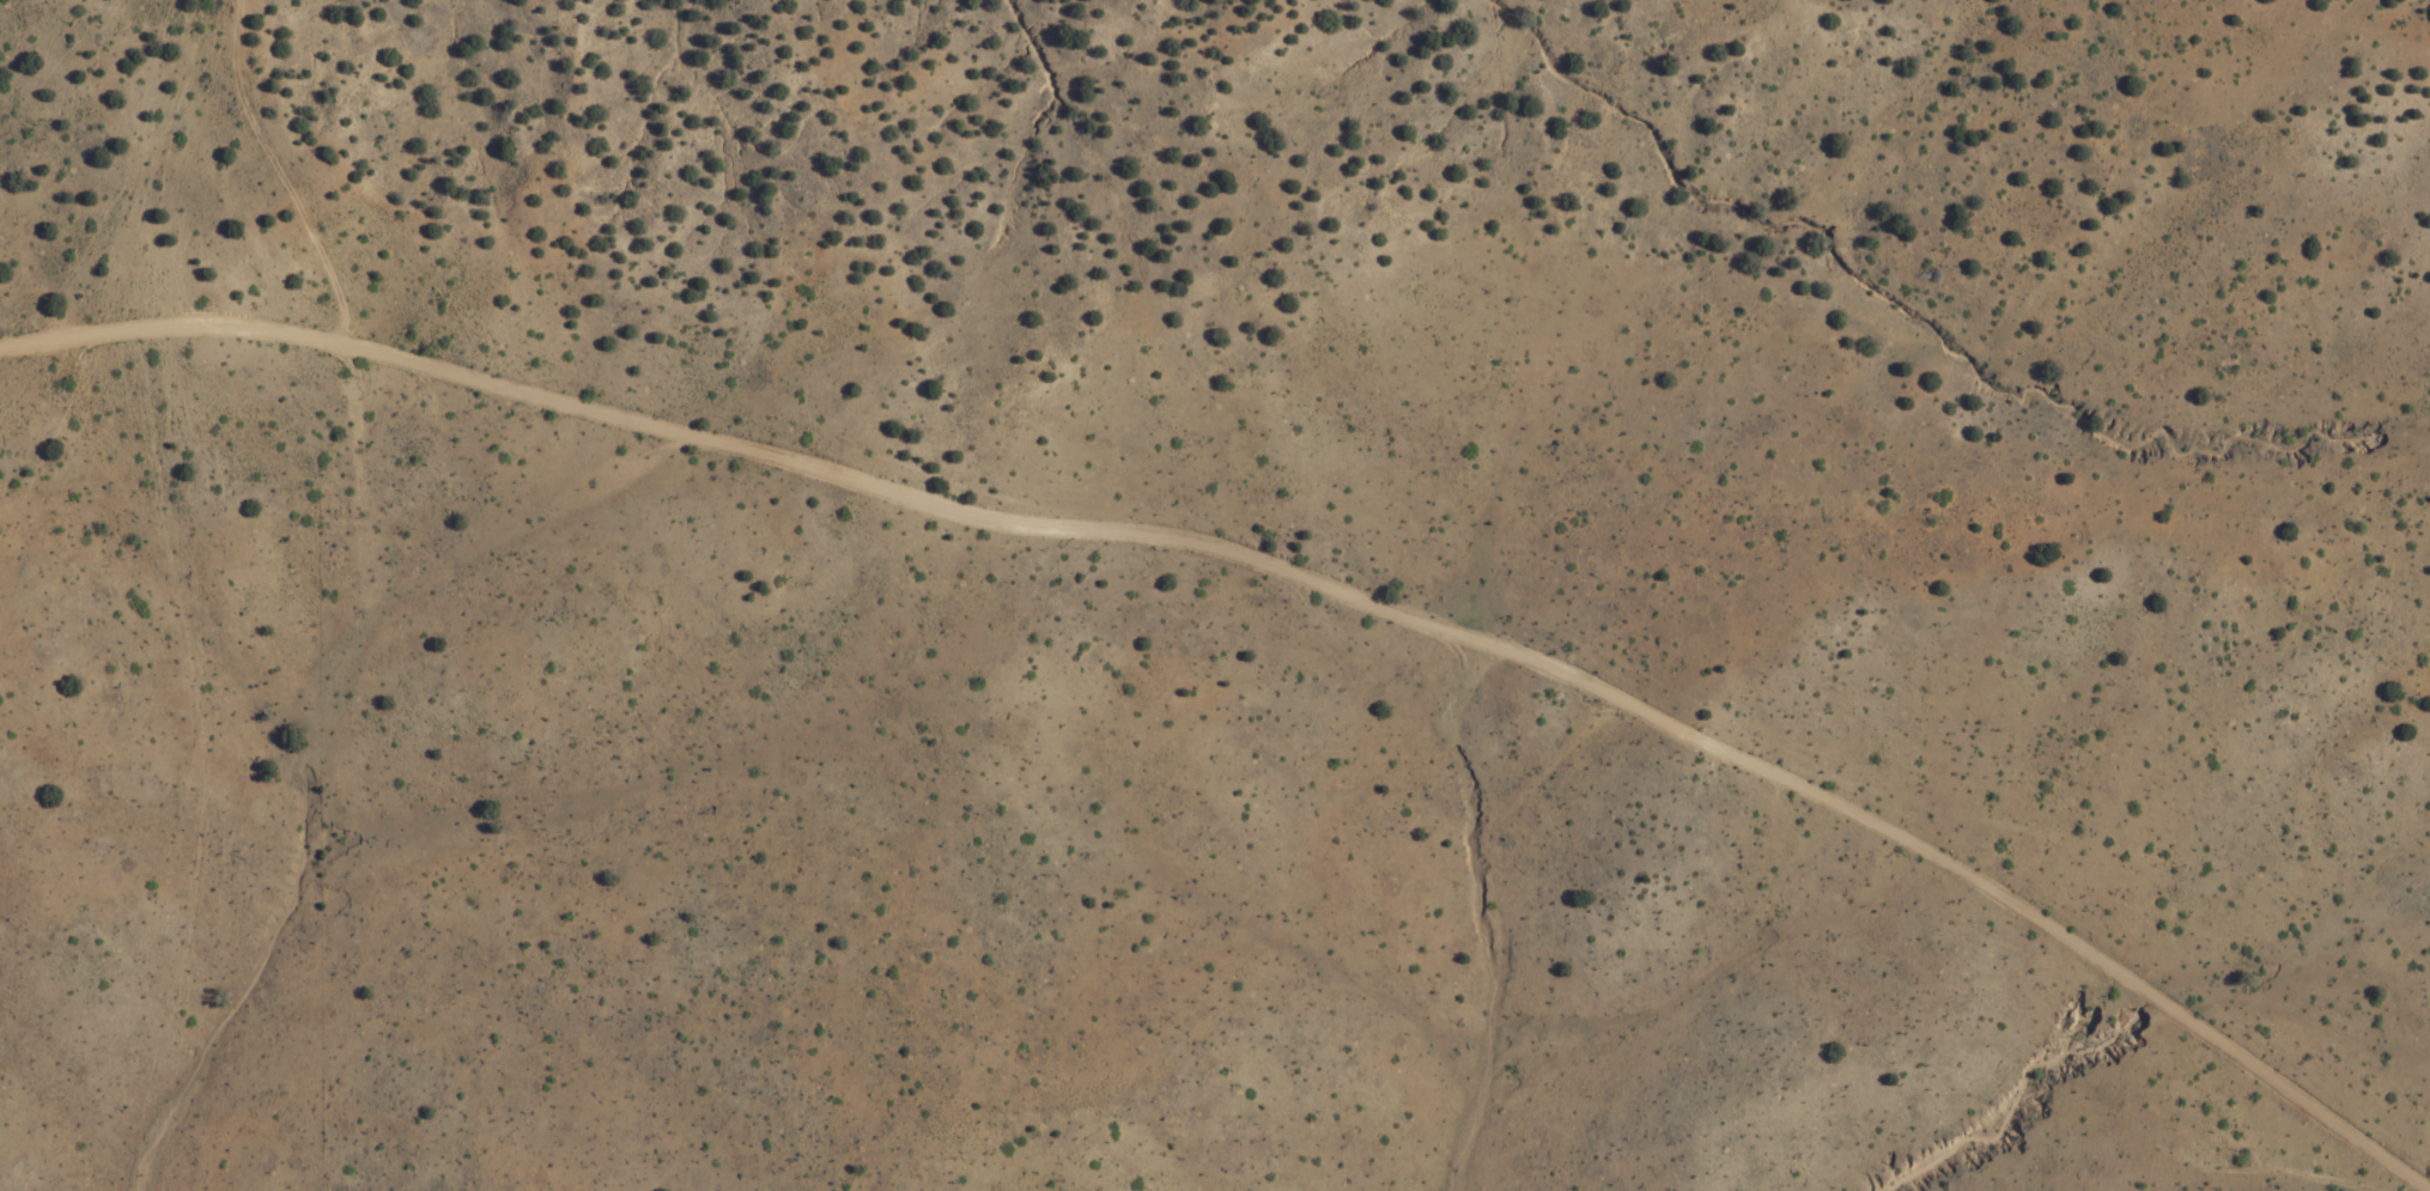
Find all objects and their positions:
road: (1280, 569)

